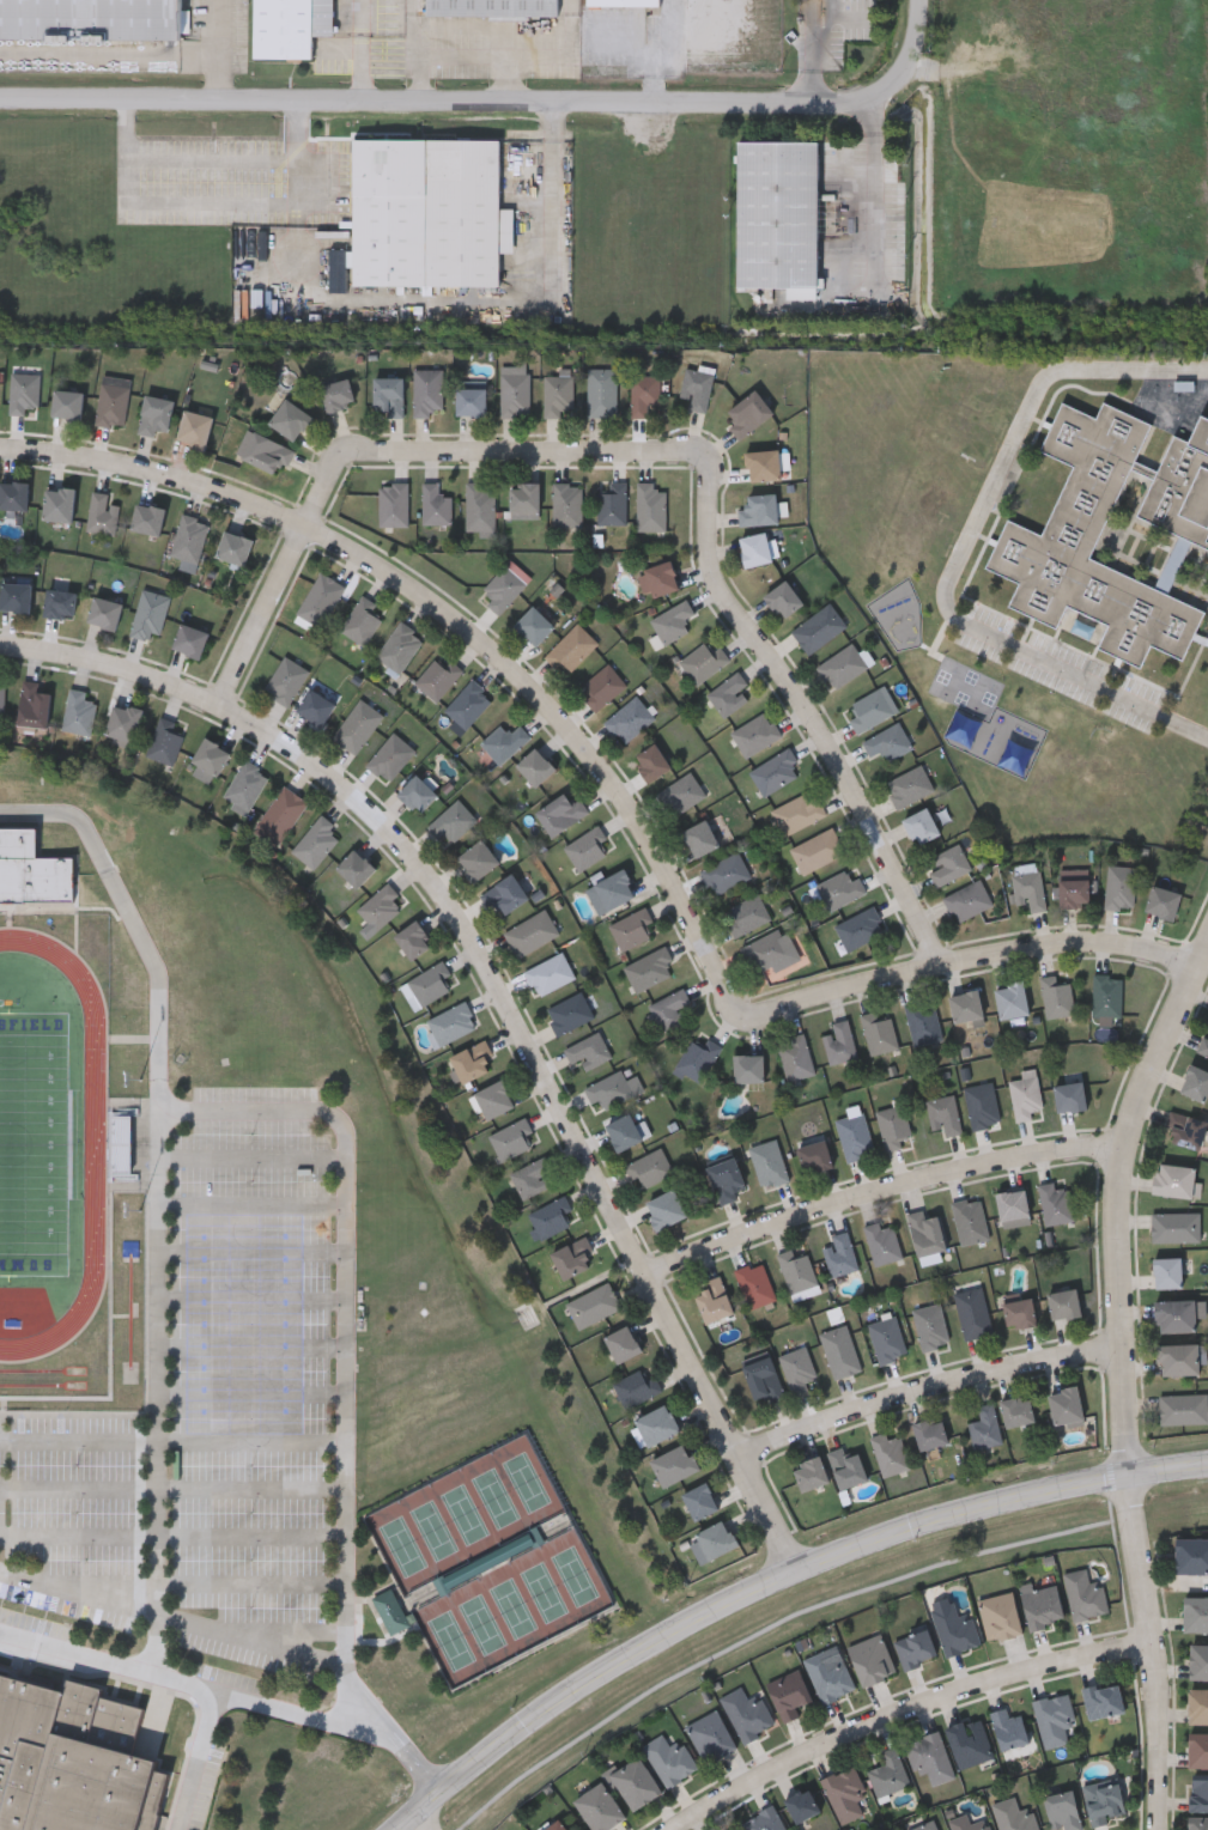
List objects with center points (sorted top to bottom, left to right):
building: (623, 1)
building: (492, 7)
building: (91, 18)
road: (362, 18)
building: (290, 25)
road: (912, 42)
road: (217, 48)
road: (644, 51)
road: (363, 67)
road: (449, 97)
road: (212, 159)
road: (874, 176)
road: (553, 197)
road: (212, 202)
building: (425, 213)
building: (777, 214)
building: (698, 389)
building: (429, 391)
building: (515, 391)
building: (24, 393)
building: (602, 393)
building: (645, 394)
building: (558, 395)
building: (338, 396)
building: (389, 396)
building: (114, 401)
building: (472, 402)
building: (67, 406)
building: (987, 407)
building: (749, 415)
building: (157, 417)
building: (291, 421)
building: (195, 431)
building: (967, 446)
building: (266, 452)
road: (386, 455)
building: (764, 467)
building: (13, 497)
building: (524, 500)
building: (59, 505)
building: (395, 505)
building: (567, 505)
building: (613, 505)
building: (437, 506)
building: (481, 507)
building: (652, 509)
building: (760, 511)
building: (103, 515)
building: (148, 519)
building: (1049, 536)
building: (190, 539)
road: (963, 546)
building: (755, 549)
building: (235, 551)
building: (658, 580)
building: (504, 589)
building: (16, 598)
building: (784, 600)
building: (322, 601)
building: (60, 604)
building: (105, 614)
building: (151, 615)
building: (363, 621)
building: (674, 622)
road: (461, 626)
building: (535, 627)
building: (820, 628)
building: (190, 642)
building: (401, 648)
building: (572, 650)
building: (705, 662)
building: (843, 667)
building: (439, 679)
building: (287, 681)
building: (605, 688)
building: (729, 694)
building: (2, 701)
building: (34, 706)
building: (468, 706)
road: (805, 706)
building: (316, 709)
building: (872, 711)
building: (80, 713)
building: (630, 721)
building: (123, 723)
building: (358, 726)
building: (757, 734)
building: (166, 742)
building: (505, 742)
building: (888, 742)
building: (211, 756)
building: (391, 758)
building: (651, 761)
building: (536, 766)
building: (776, 772)
building: (247, 785)
building: (910, 785)
building: (682, 792)
building: (418, 794)
building: (799, 811)
building: (561, 813)
building: (281, 816)
building: (454, 821)
building: (922, 826)
building: (700, 838)
building: (317, 841)
building: (587, 847)
building: (818, 850)
building: (478, 859)
building: (951, 864)
building: (357, 868)
building: (32, 870)
building: (727, 874)
building: (1122, 888)
building: (840, 889)
building: (1030, 889)
building: (612, 890)
building: (1074, 893)
building: (504, 895)
building: (969, 900)
building: (1164, 901)
building: (382, 906)
road: (129, 916)
building: (748, 916)
building: (861, 928)
building: (632, 929)
building: (532, 934)
building: (414, 940)
building: (767, 950)
road: (978, 953)
building: (651, 968)
building: (550, 974)
building: (429, 985)
road: (508, 995)
building: (1109, 996)
building: (1057, 997)
building: (1013, 999)
building: (967, 1007)
building: (669, 1009)
building: (570, 1013)
building: (453, 1022)
building: (924, 1022)
building: (881, 1033)
building: (840, 1042)
building: (1204, 1045)
building: (589, 1051)
building: (796, 1057)
building: (698, 1059)
building: (472, 1060)
building: (748, 1068)
building: (1196, 1083)
building: (614, 1089)
building: (1026, 1095)
building: (1070, 1096)
building: (494, 1098)
road: (272, 1105)
building: (983, 1106)
building: (945, 1113)
building: (896, 1127)
building: (1186, 1130)
building: (624, 1131)
building: (855, 1137)
building: (512, 1138)
park: (34, 1142)
track: (95, 1144)
road: (251, 1154)
building: (815, 1156)
building: (770, 1163)
building: (650, 1168)
building: (532, 1177)
building: (727, 1180)
building: (1177, 1181)
road: (880, 1192)
road: (251, 1202)
building: (1056, 1204)
building: (664, 1209)
building: (1014, 1209)
building: (552, 1216)
building: (971, 1221)
building: (1177, 1228)
building: (927, 1233)
building: (884, 1244)
road: (251, 1251)
building: (842, 1254)
building: (573, 1257)
building: (800, 1272)
building: (1168, 1272)
building: (757, 1284)
road: (251, 1294)
building: (714, 1301)
building: (594, 1305)
building: (1066, 1305)
building: (975, 1314)
building: (1020, 1314)
building: (1178, 1314)
building: (931, 1326)
building: (887, 1338)
road: (250, 1340)
building: (623, 1343)
building: (842, 1351)
building: (1182, 1358)
building: (799, 1369)
building: (765, 1380)
road: (1124, 1381)
road: (250, 1388)
building: (637, 1388)
road: (931, 1396)
building: (1067, 1406)
building: (1184, 1409)
building: (1018, 1411)
building: (657, 1424)
building: (987, 1427)
building: (930, 1433)
road: (78, 1437)
road: (250, 1441)
building: (891, 1453)
building: (675, 1464)
building: (848, 1467)
building: (812, 1472)
road: (78, 1487)
road: (248, 1488)
building: (700, 1501)
road: (78, 1532)
road: (249, 1533)
building: (715, 1540)
building: (1191, 1554)
road: (772, 1580)
road: (248, 1581)
building: (443, 1587)
road: (75, 1593)
building: (1085, 1593)
building: (1042, 1604)
building: (391, 1612)
building: (1195, 1612)
building: (1000, 1613)
building: (954, 1627)
road: (243, 1635)
building: (915, 1644)
building: (870, 1658)
building: (1198, 1659)
building: (828, 1676)
building: (788, 1692)
road: (229, 1698)
building: (1104, 1698)
building: (1198, 1703)
building: (747, 1712)
road: (911, 1716)
building: (1054, 1716)
building: (1009, 1727)
building: (711, 1734)
building: (969, 1740)
building: (1198, 1747)
building: (929, 1756)
building: (669, 1757)
building: (73, 1758)
road: (205, 1763)
building: (888, 1771)
building: (635, 1781)
building: (844, 1792)
building: (1198, 1793)
building: (1104, 1800)
building: (802, 1802)
building: (599, 1806)
building: (1062, 1808)
building: (1014, 1814)
building: (765, 1819)
building: (970, 1823)
building: (1198, 1823)
road: (418, 1824)
building: (554, 1825)
building: (924, 1825)

